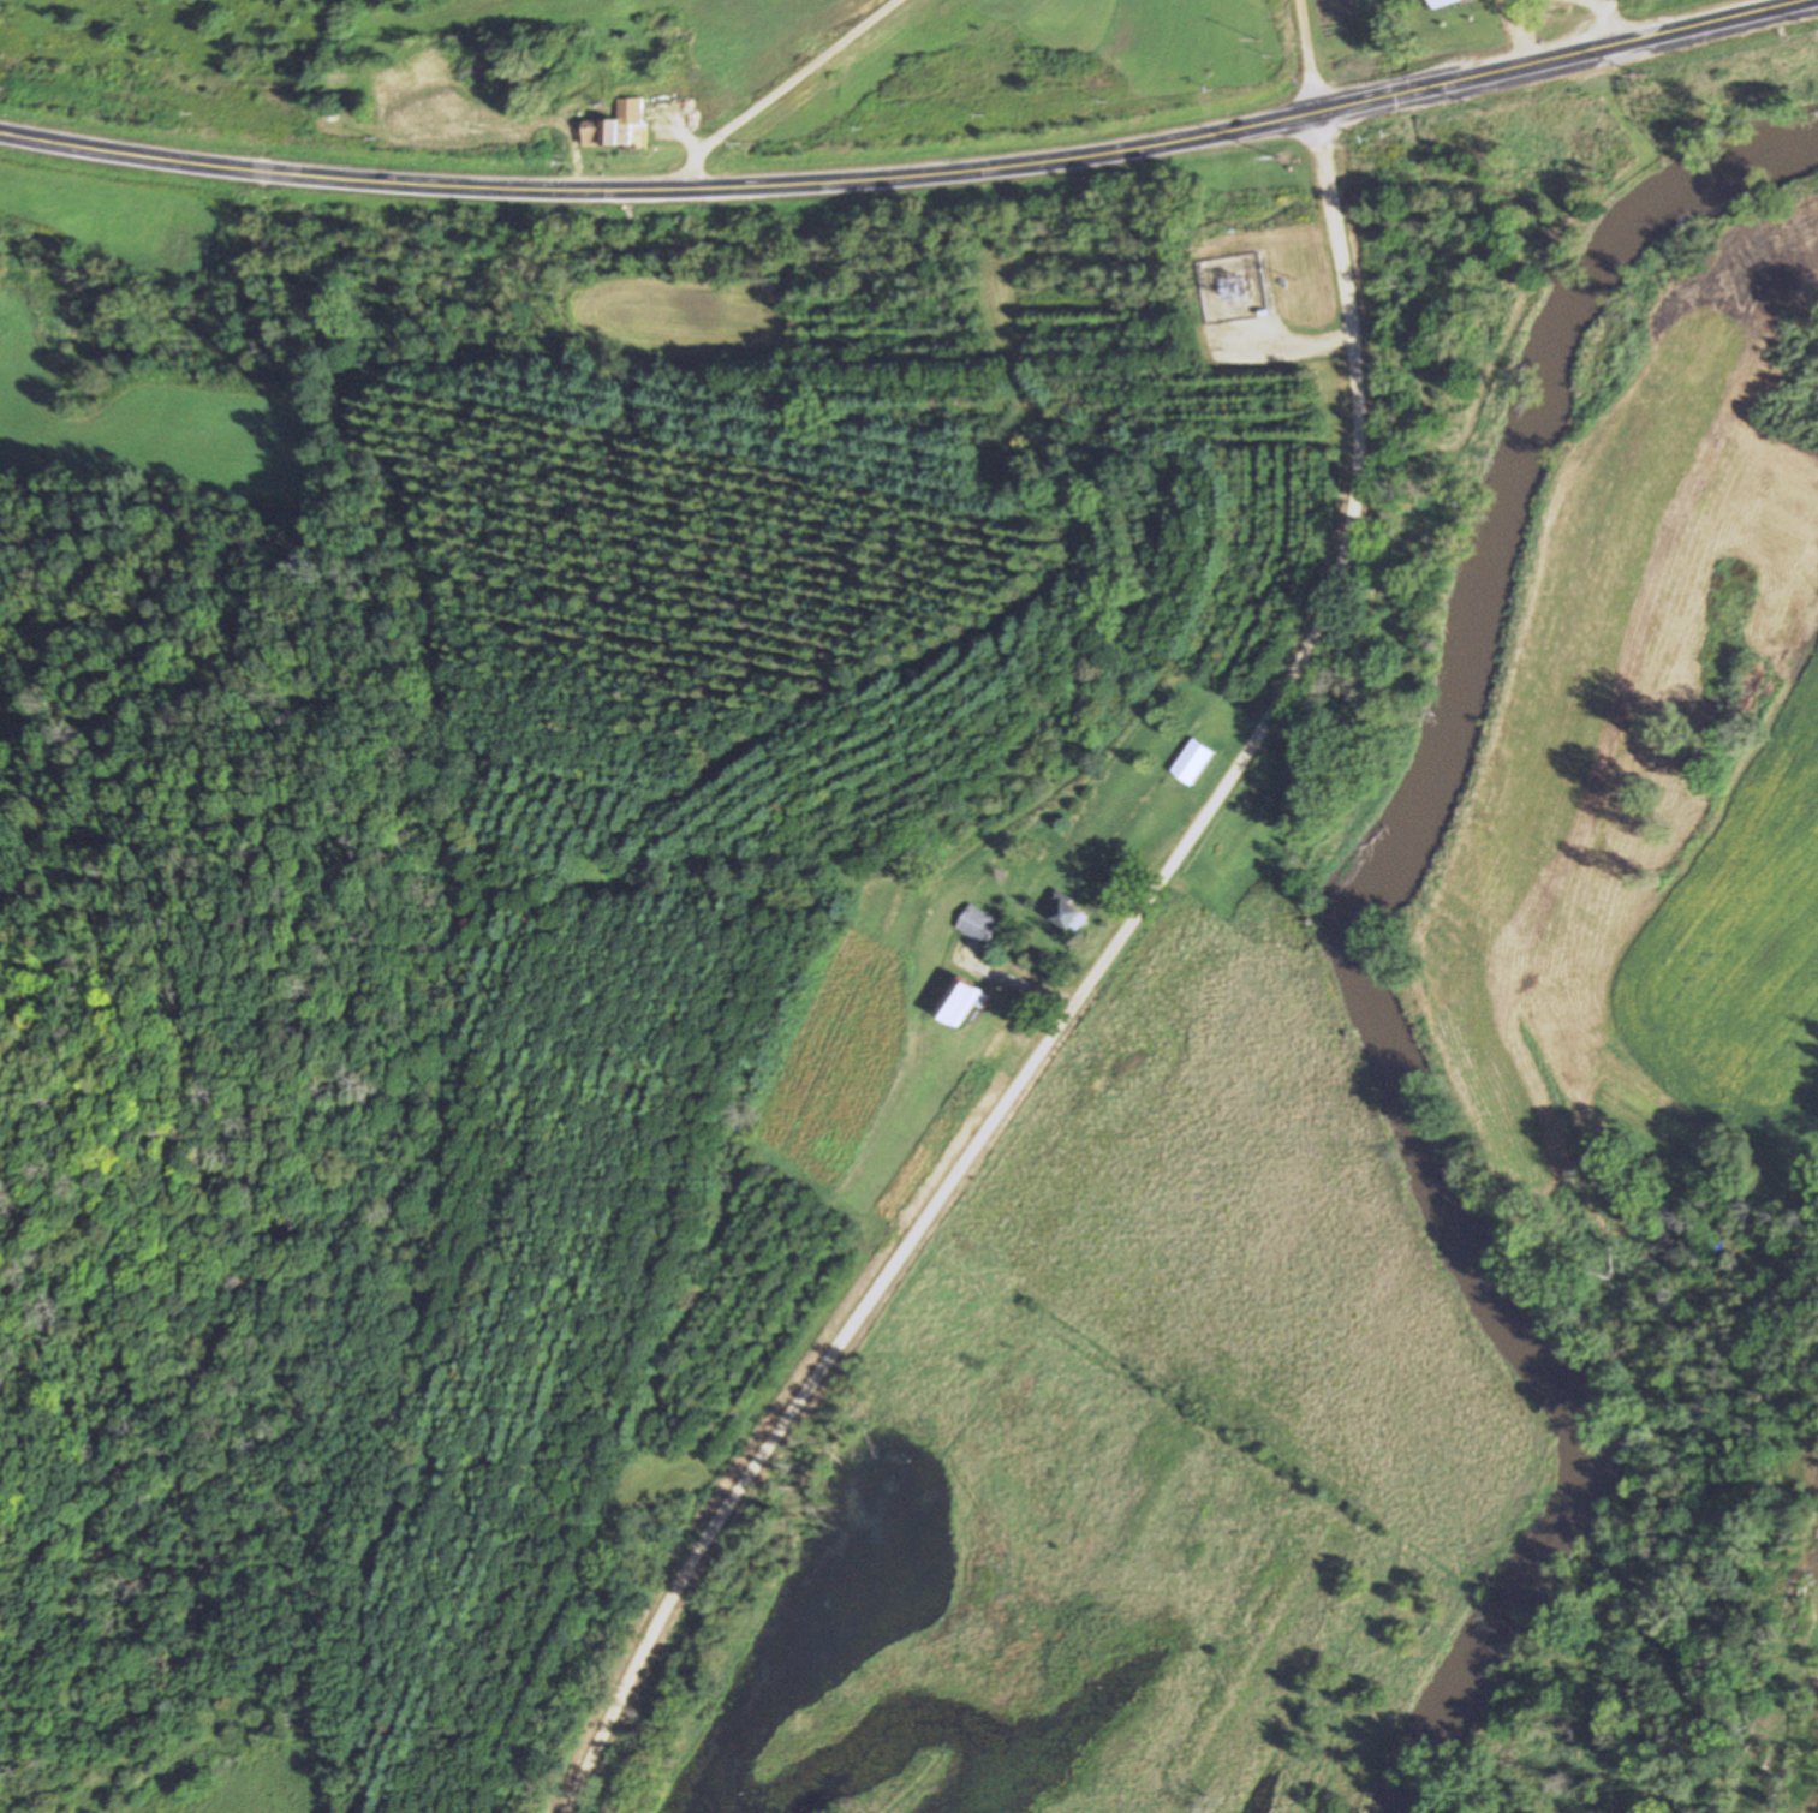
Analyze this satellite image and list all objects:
building: (1438, 1)
road: (1590, 31)
road: (1309, 59)
road: (776, 89)
building: (615, 127)
road: (913, 181)
building: (1192, 762)
building: (1068, 918)
building: (978, 925)
river: (1358, 937)
road: (1079, 997)
building: (960, 1003)

